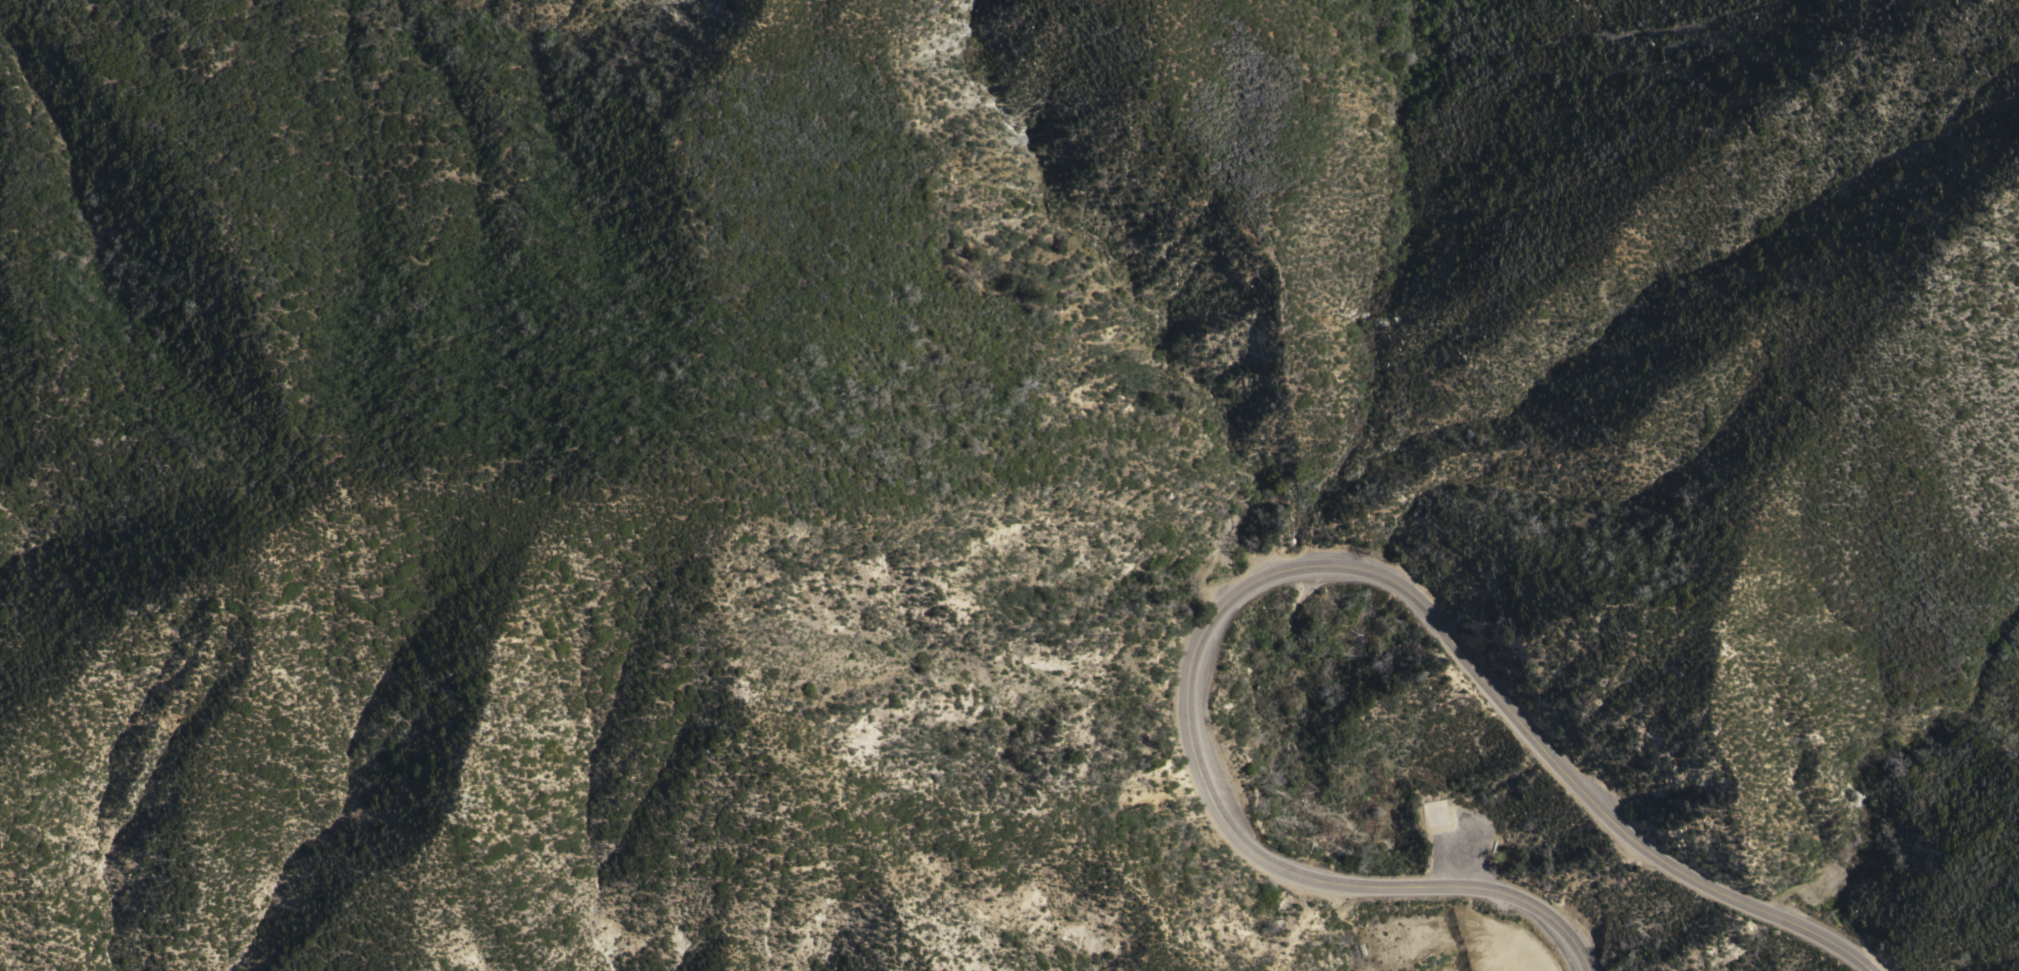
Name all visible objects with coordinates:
road: (1284, 563)
helipad: (1440, 818)

